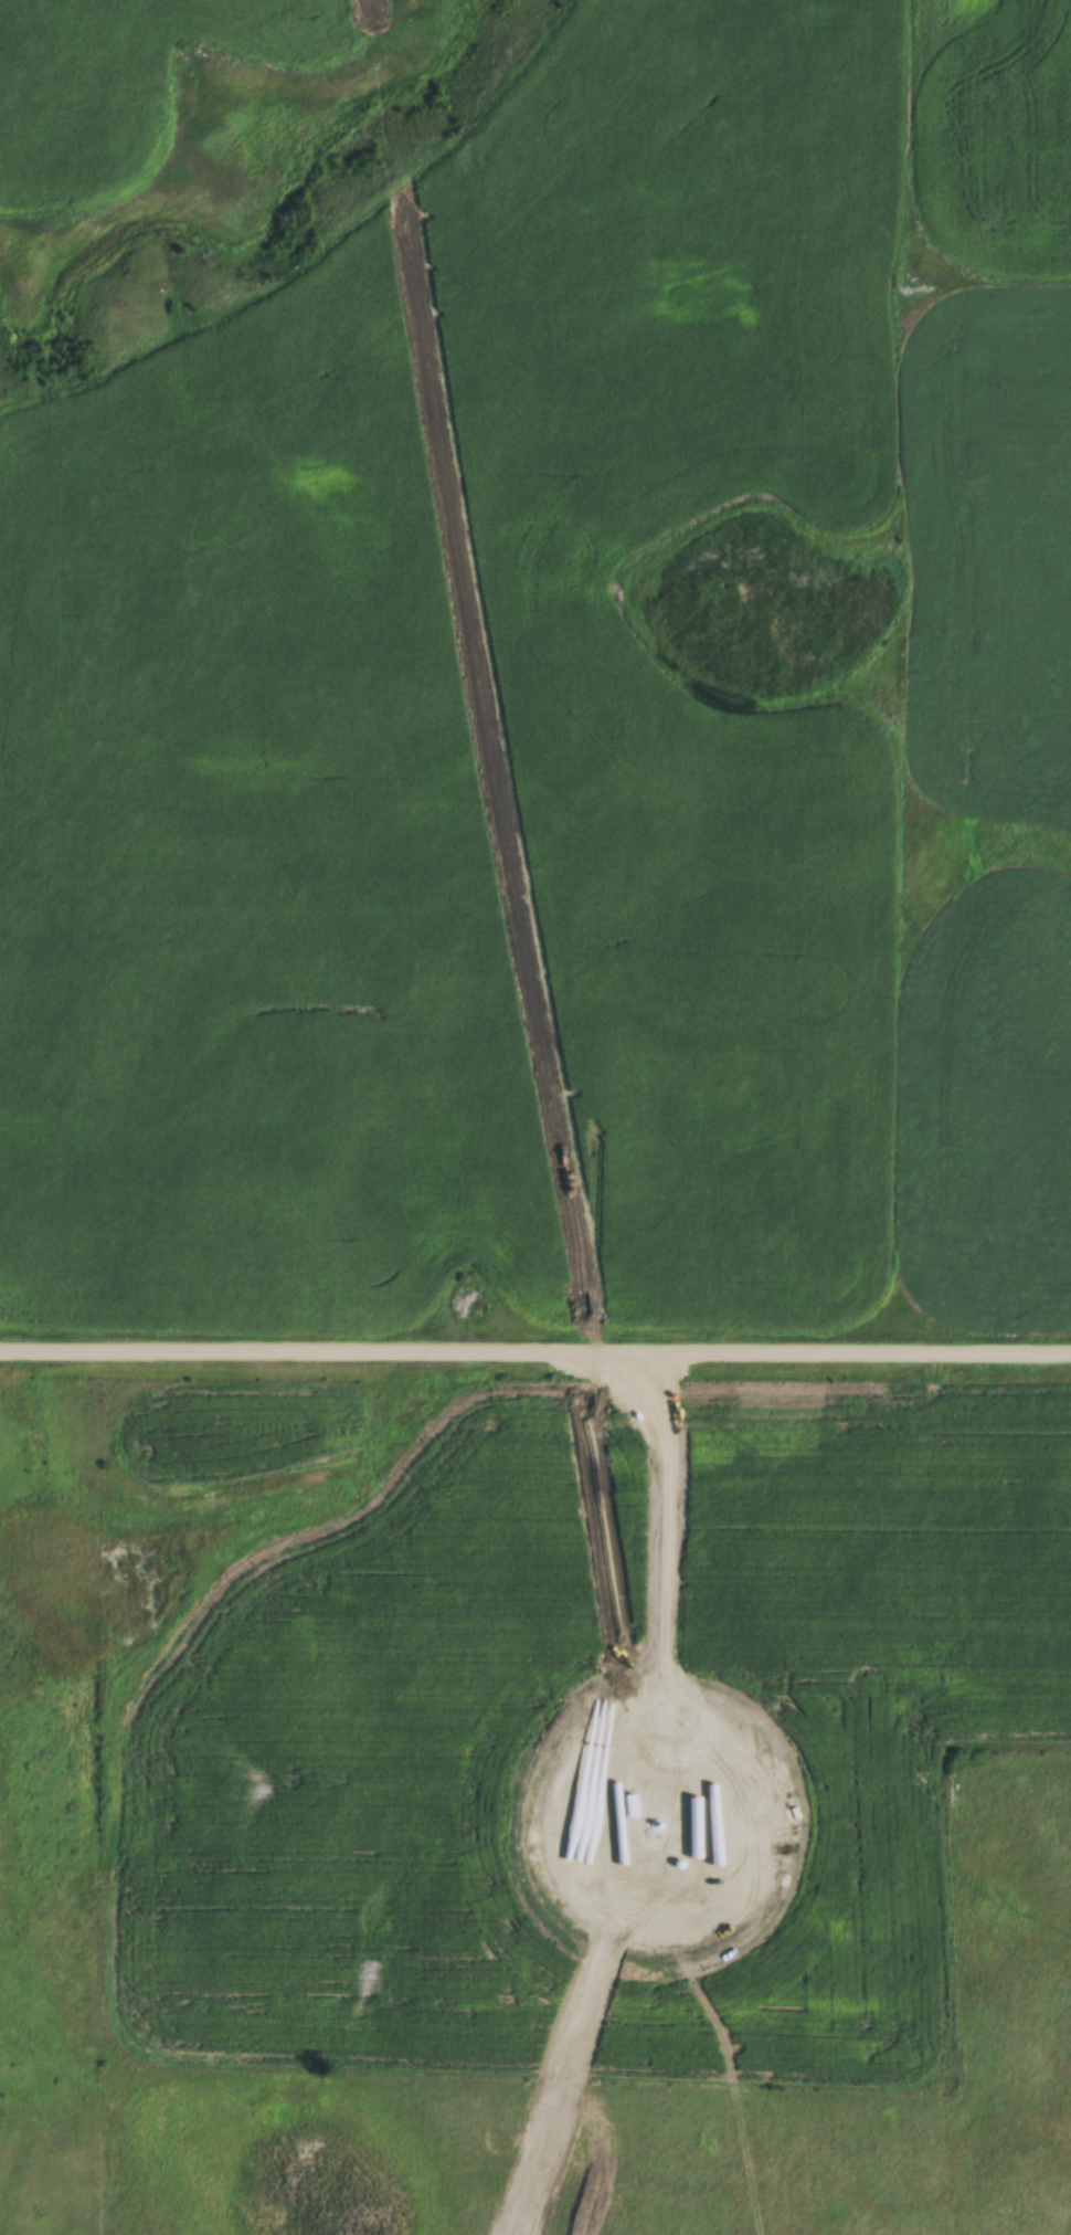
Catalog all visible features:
road: (535, 1350)
wind turbine: (675, 1827)

